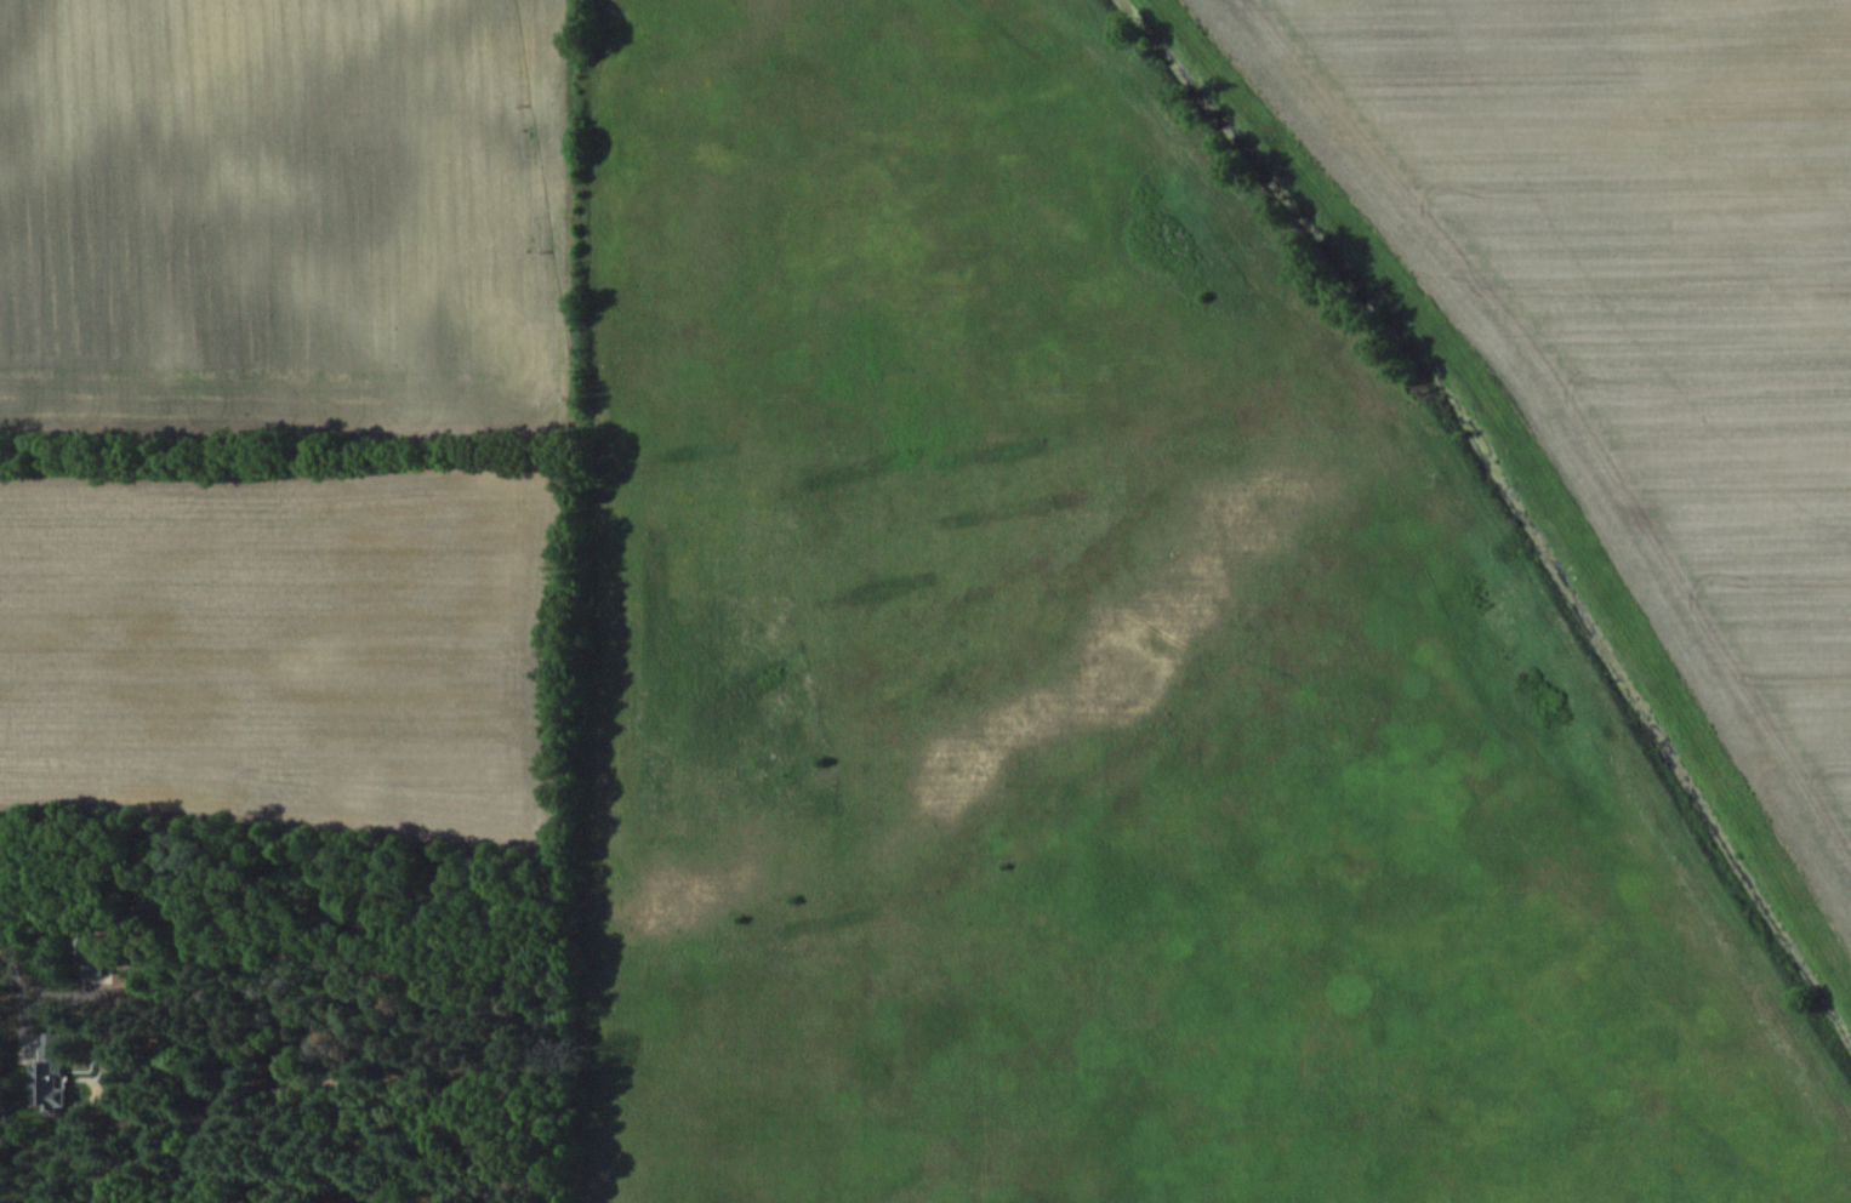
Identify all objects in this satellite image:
building: (89, 953)
road: (19, 997)
building: (49, 1071)

